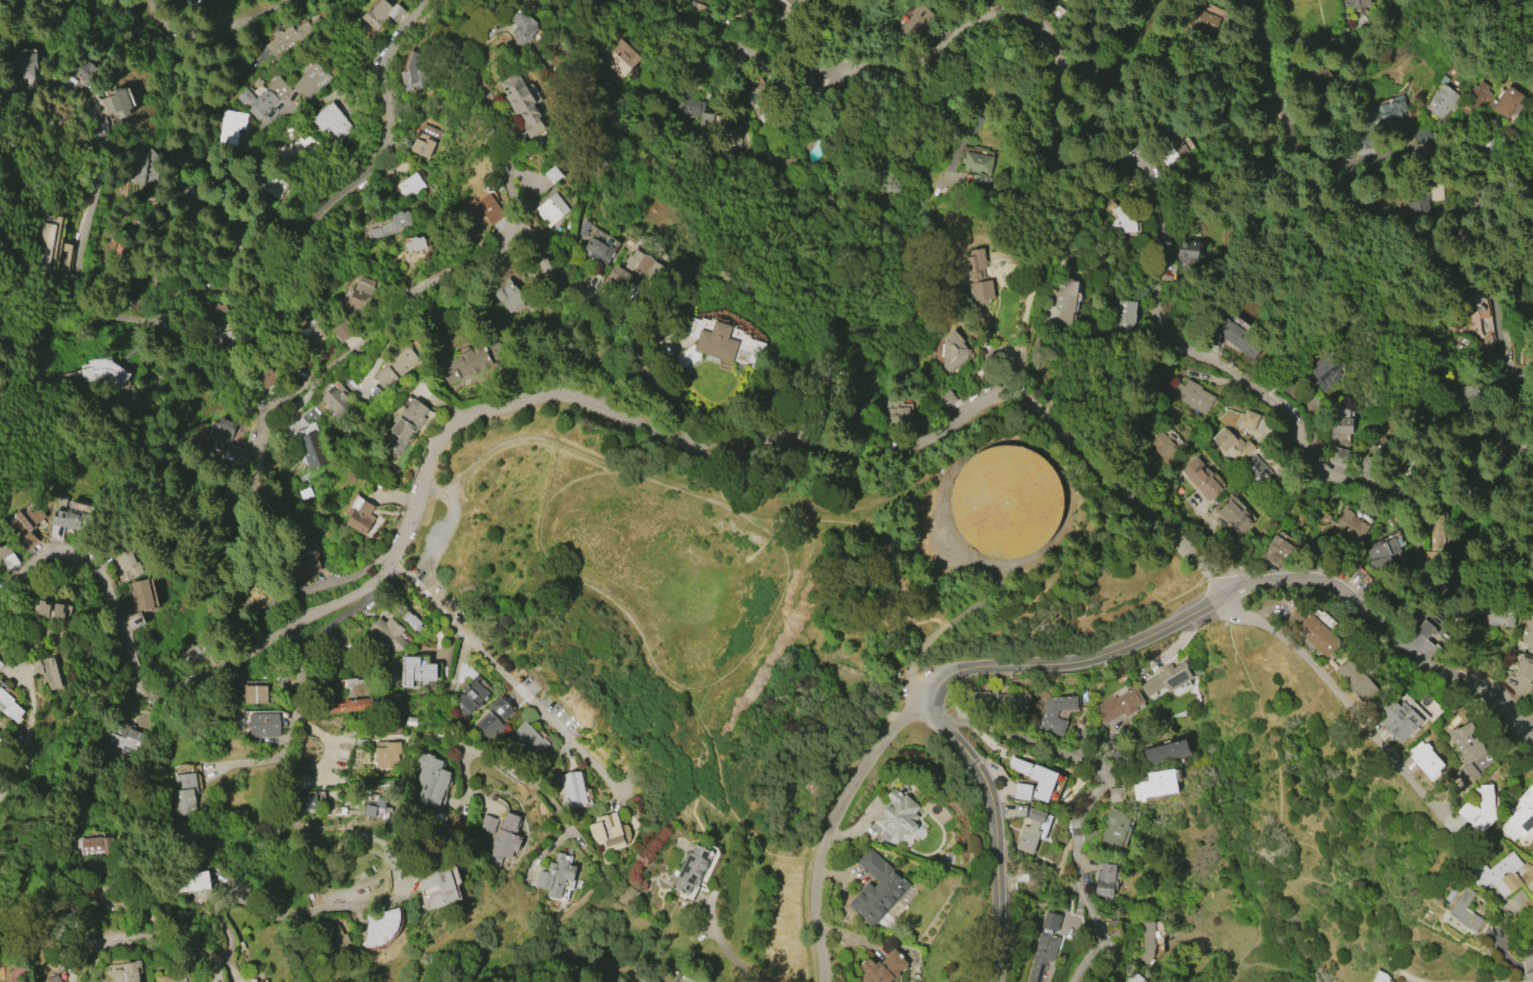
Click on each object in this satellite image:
building: (788, 1)
building: (1355, 3)
road: (1148, 8)
building: (380, 14)
building: (1195, 17)
road: (219, 20)
building: (909, 21)
building: (523, 30)
road: (786, 36)
road: (105, 40)
building: (283, 40)
road: (736, 50)
building: (619, 58)
building: (22, 61)
building: (1082, 69)
building: (417, 70)
building: (314, 80)
building: (263, 98)
building: (1474, 99)
building: (118, 102)
building: (1442, 102)
building: (1505, 102)
building: (521, 104)
building: (690, 107)
building: (1387, 114)
building: (331, 122)
building: (230, 126)
building: (426, 141)
road: (1064, 142)
building: (1173, 146)
road: (1448, 147)
road: (752, 151)
building: (291, 155)
building: (977, 162)
building: (144, 167)
building: (552, 174)
building: (273, 186)
building: (404, 188)
building: (1423, 203)
building: (551, 210)
building: (480, 211)
building: (1122, 223)
building: (393, 227)
building: (584, 227)
building: (415, 244)
building: (49, 247)
building: (1189, 248)
road: (7, 249)
road: (490, 251)
building: (602, 253)
road: (1497, 258)
building: (1440, 262)
building: (644, 265)
building: (619, 275)
building: (976, 276)
road: (191, 290)
building: (360, 294)
building: (509, 296)
building: (1469, 297)
building: (1064, 300)
building: (1124, 319)
building: (342, 330)
building: (309, 331)
building: (1230, 334)
building: (1463, 339)
building: (716, 342)
building: (1486, 343)
building: (953, 351)
building: (472, 359)
building: (395, 368)
building: (101, 371)
building: (1324, 371)
building: (1192, 396)
road: (532, 400)
building: (945, 400)
building: (339, 401)
building: (897, 412)
road: (125, 417)
building: (1246, 420)
building: (1338, 423)
building: (405, 425)
road: (1290, 425)
road: (1512, 427)
building: (221, 430)
building: (1161, 444)
building: (1231, 447)
building: (312, 449)
building: (1337, 456)
building: (1257, 473)
road: (950, 474)
building: (352, 475)
building: (1200, 478)
building: (1005, 501)
silo: (1007, 501)
building: (74, 515)
building: (359, 515)
building: (1234, 516)
building: (26, 519)
building: (1351, 524)
road: (848, 525)
building: (1436, 532)
road: (1420, 539)
building: (27, 540)
building: (1276, 551)
building: (1381, 551)
building: (37, 555)
building: (6, 558)
building: (127, 560)
building: (303, 567)
road: (1213, 578)
building: (261, 593)
building: (141, 596)
building: (51, 609)
building: (1494, 613)
building: (411, 622)
road: (1386, 631)
building: (1313, 633)
building: (385, 636)
building: (192, 649)
building: (1526, 652)
road: (652, 657)
road: (1074, 657)
building: (0, 665)
building: (416, 670)
building: (48, 671)
road: (510, 675)
building: (1166, 678)
road: (911, 679)
building: (1355, 680)
building: (355, 687)
road: (1330, 688)
building: (255, 694)
building: (474, 694)
road: (302, 695)
building: (1002, 698)
building: (350, 705)
building: (1119, 705)
building: (9, 706)
road: (29, 711)
building: (1055, 713)
building: (494, 718)
building: (1398, 719)
building: (409, 721)
building: (263, 724)
building: (392, 727)
building: (124, 736)
building: (529, 740)
building: (1465, 742)
building: (1164, 752)
building: (388, 756)
road: (489, 758)
building: (1426, 761)
road: (554, 762)
road: (14, 773)
road: (463, 773)
building: (1466, 773)
building: (1035, 777)
building: (430, 784)
building: (1155, 784)
building: (573, 789)
building: (1022, 791)
building: (183, 794)
building: (1116, 794)
road: (1090, 798)
building: (304, 800)
building: (372, 806)
building: (1479, 807)
building: (1522, 812)
road: (559, 814)
building: (894, 815)
road: (1281, 818)
road: (830, 821)
building: (487, 823)
building: (1114, 827)
road: (994, 829)
building: (1032, 830)
building: (607, 832)
building: (1089, 838)
building: (504, 839)
building: (92, 845)
building: (689, 869)
building: (1498, 874)
building: (555, 876)
building: (1104, 880)
building: (191, 881)
building: (436, 887)
building: (875, 889)
building: (1464, 910)
building: (381, 927)
building: (1112, 927)
building: (337, 935)
road: (230, 939)
building: (1147, 941)
building: (1043, 947)
road: (736, 958)
building: (881, 968)
building: (127, 972)
building: (1131, 975)
building: (1380, 977)
building: (54, 978)
building: (168, 979)
building: (260, 981)
building: (264, 981)
building: (1113, 981)
road: (1420, 981)

